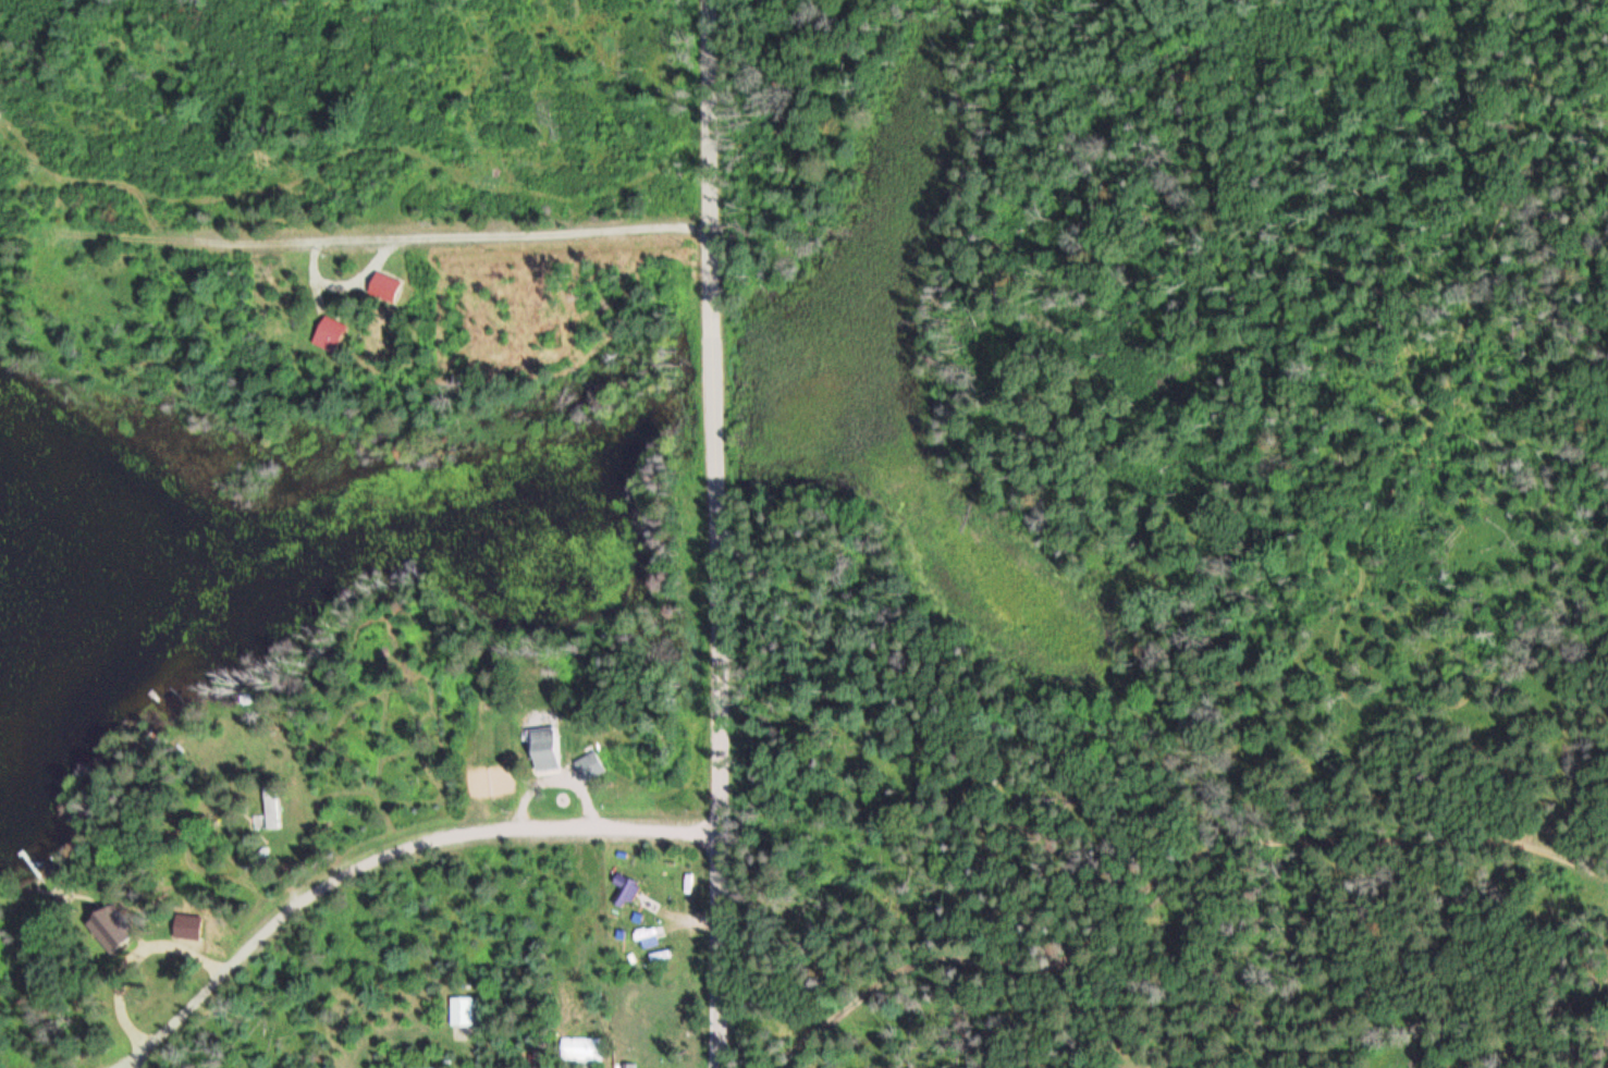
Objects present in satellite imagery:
road: (395, 221)
building: (329, 332)
road: (717, 533)
building: (543, 749)
building: (589, 765)
road: (1561, 796)
building: (269, 805)
road: (388, 854)
road: (1159, 870)
building: (624, 889)
building: (105, 931)
building: (461, 1010)
building: (581, 1048)
building: (535, 1059)

